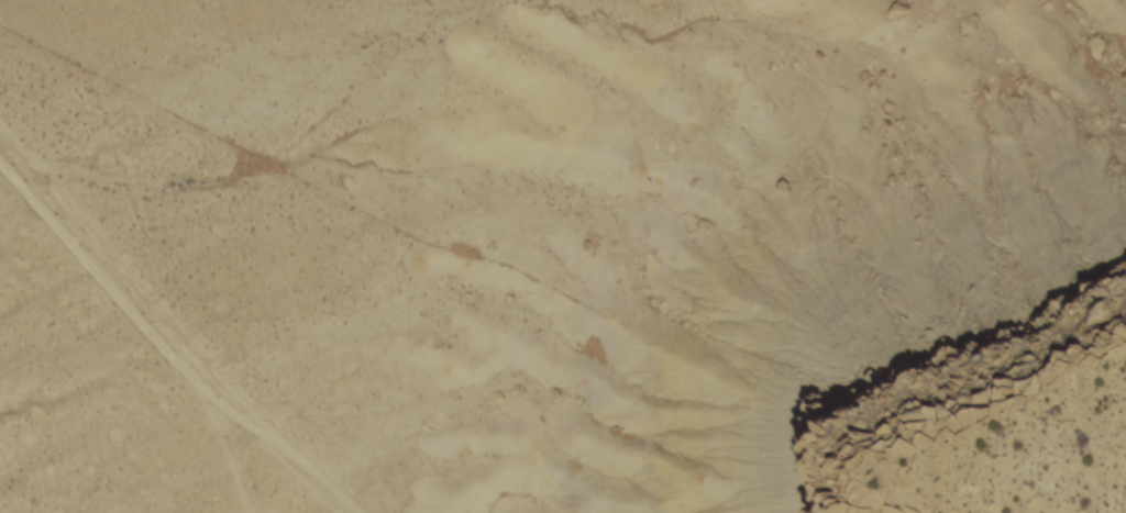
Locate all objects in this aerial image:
road: (188, 303)

